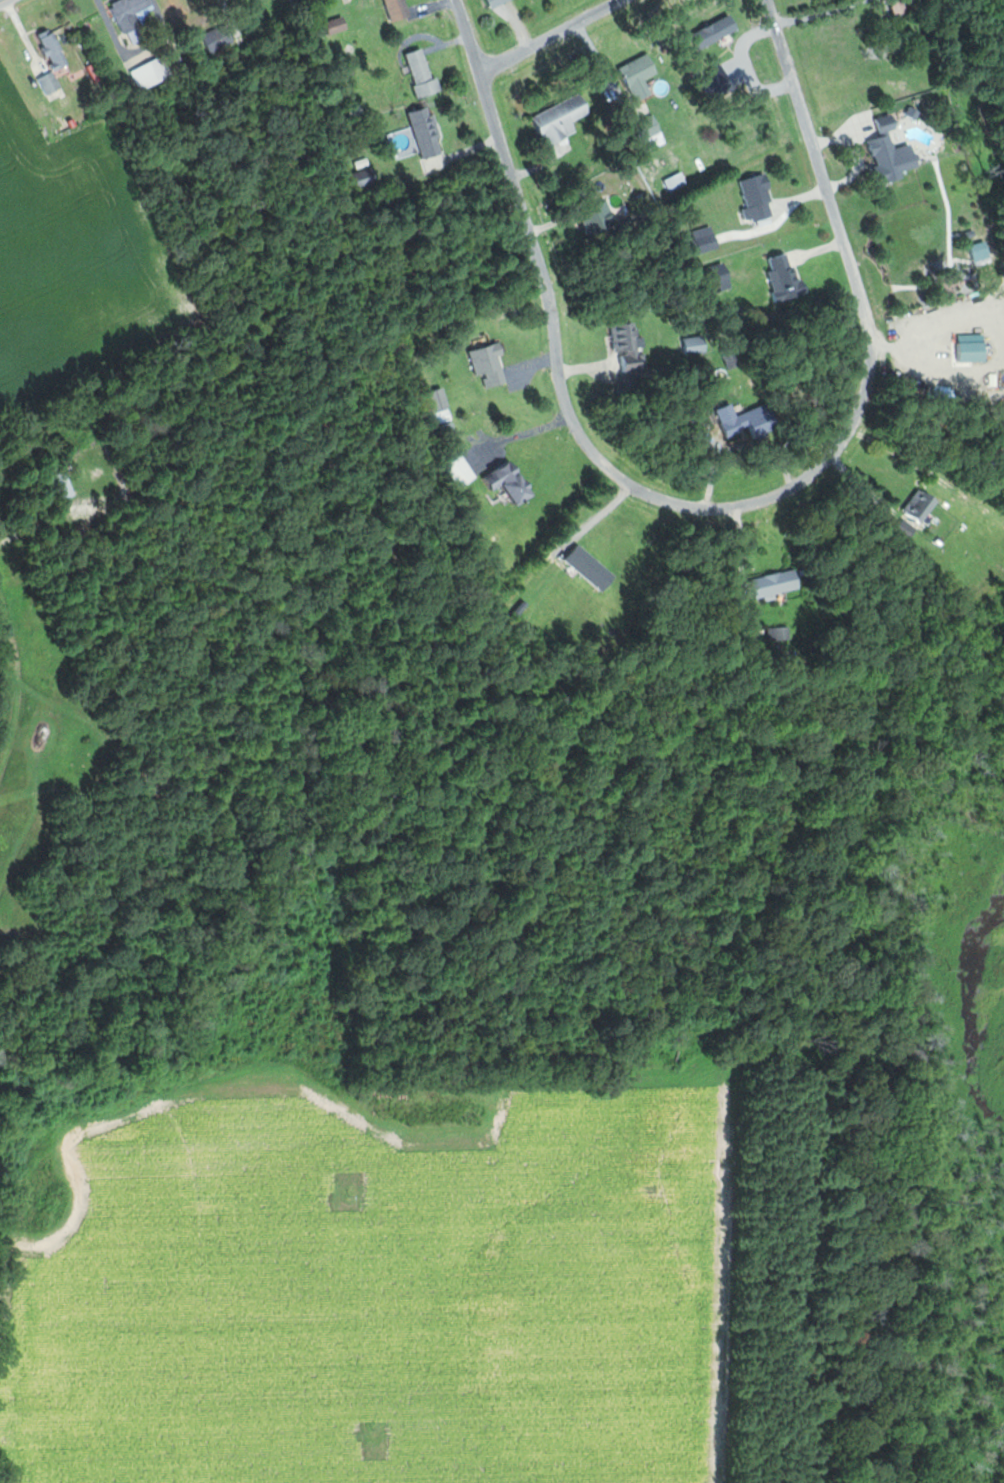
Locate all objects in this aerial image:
road: (3, 1)
building: (300, 2)
building: (497, 2)
road: (602, 8)
building: (399, 9)
road: (816, 12)
building: (132, 13)
building: (338, 25)
building: (220, 39)
building: (55, 50)
road: (499, 65)
building: (423, 73)
building: (152, 74)
building: (641, 74)
building: (51, 83)
building: (563, 120)
building: (429, 133)
building: (891, 154)
building: (367, 178)
building: (759, 199)
building: (600, 222)
building: (706, 240)
road: (852, 264)
building: (787, 277)
building: (719, 278)
building: (696, 345)
building: (630, 346)
road: (559, 359)
building: (491, 365)
building: (441, 405)
building: (751, 420)
building: (463, 471)
building: (513, 480)
building: (58, 488)
building: (923, 506)
building: (782, 581)

